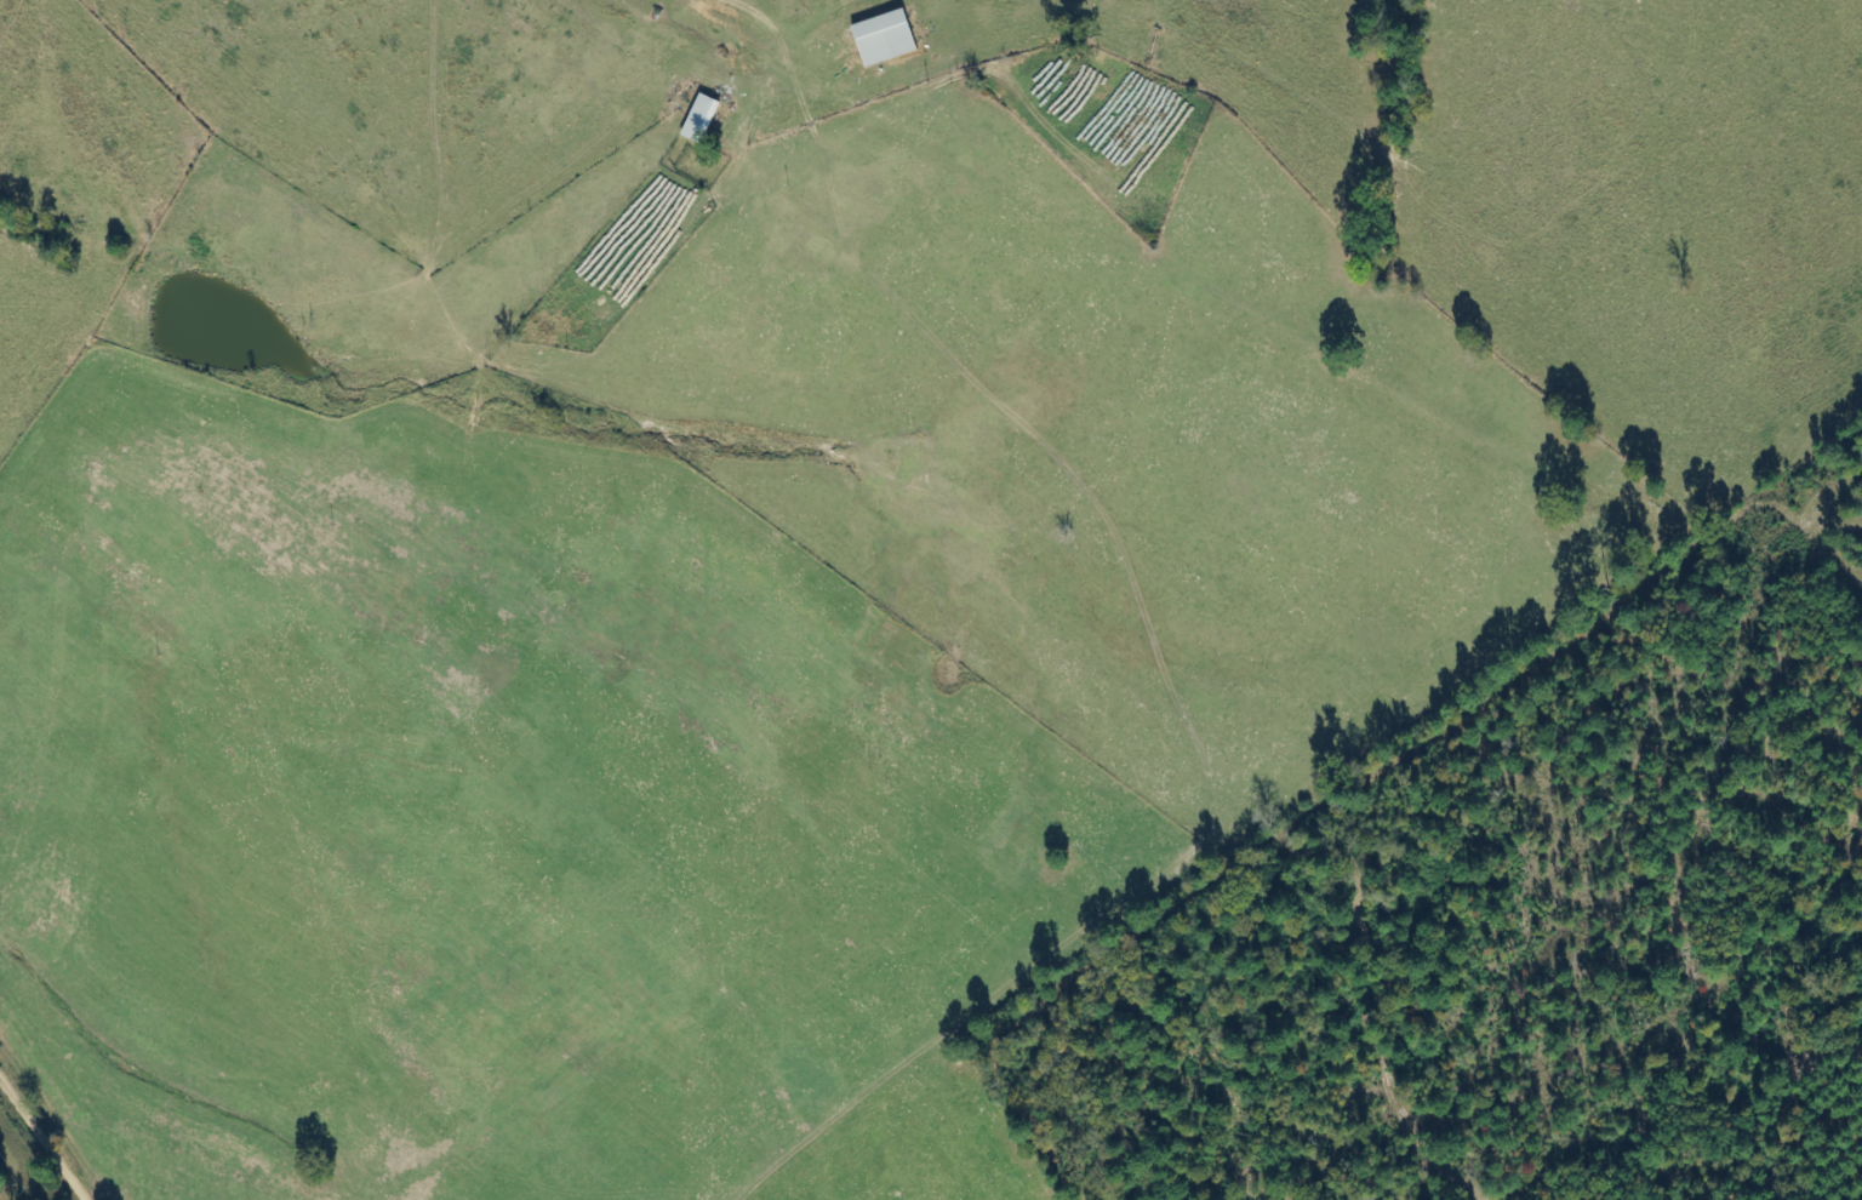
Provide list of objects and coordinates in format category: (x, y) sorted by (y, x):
road: (759, 19)
building: (881, 39)
building: (697, 120)
road: (36, 1147)

